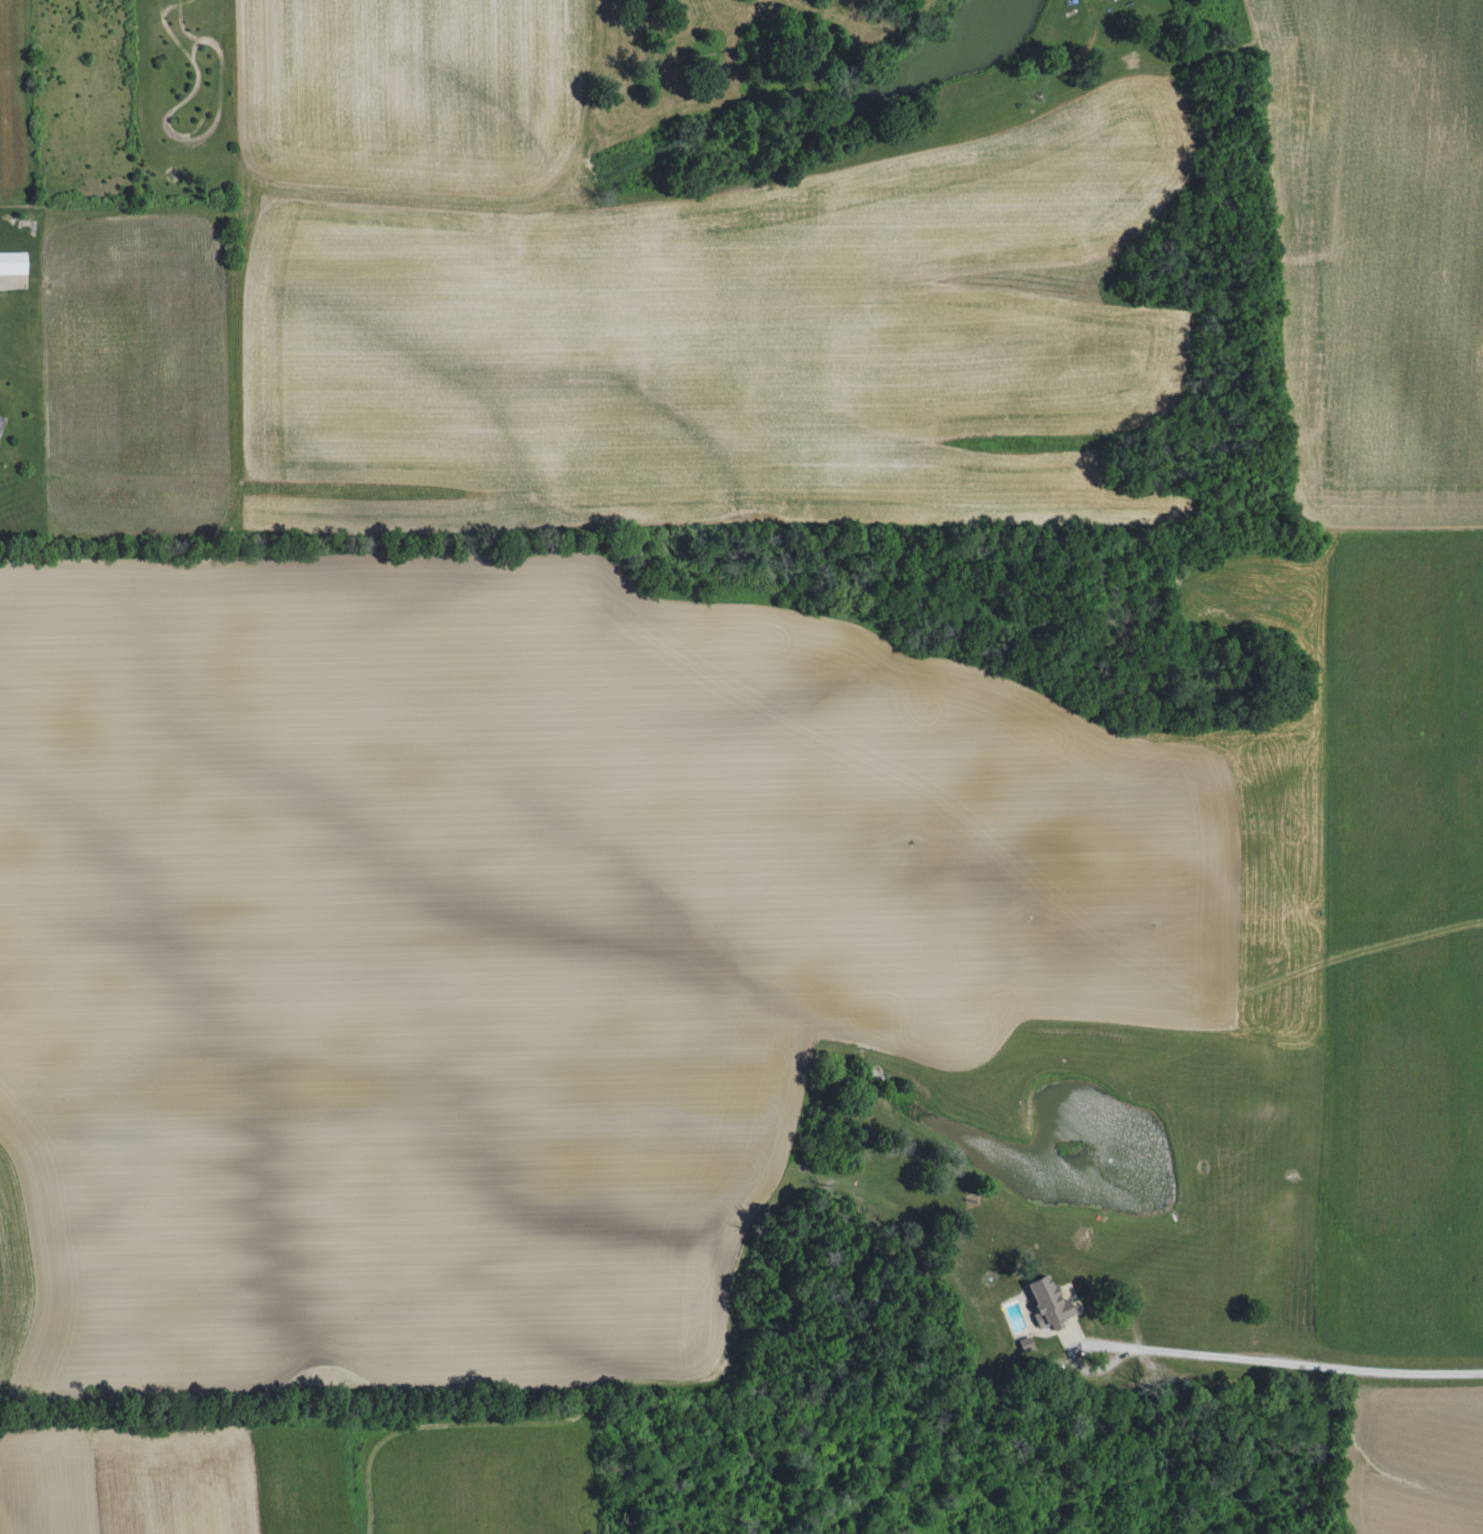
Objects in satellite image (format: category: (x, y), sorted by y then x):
building: (14, 262)
building: (1053, 1301)
road: (1274, 1357)

